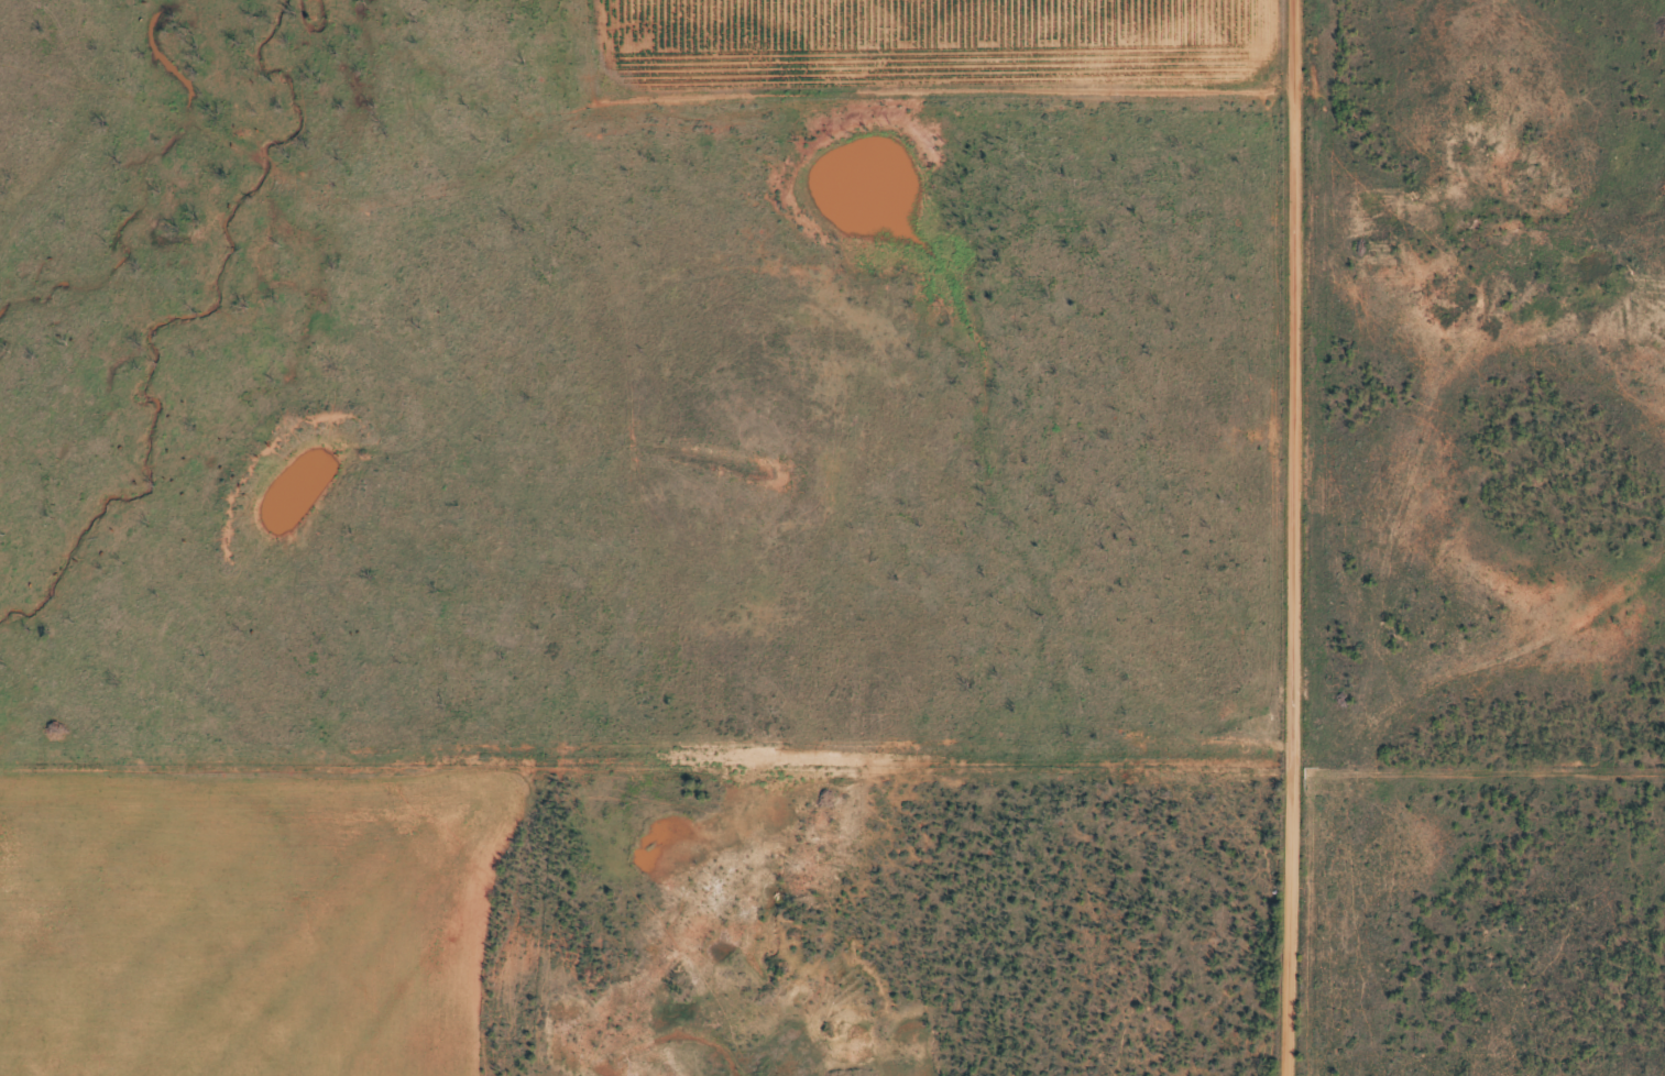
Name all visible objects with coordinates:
road: (1289, 538)

